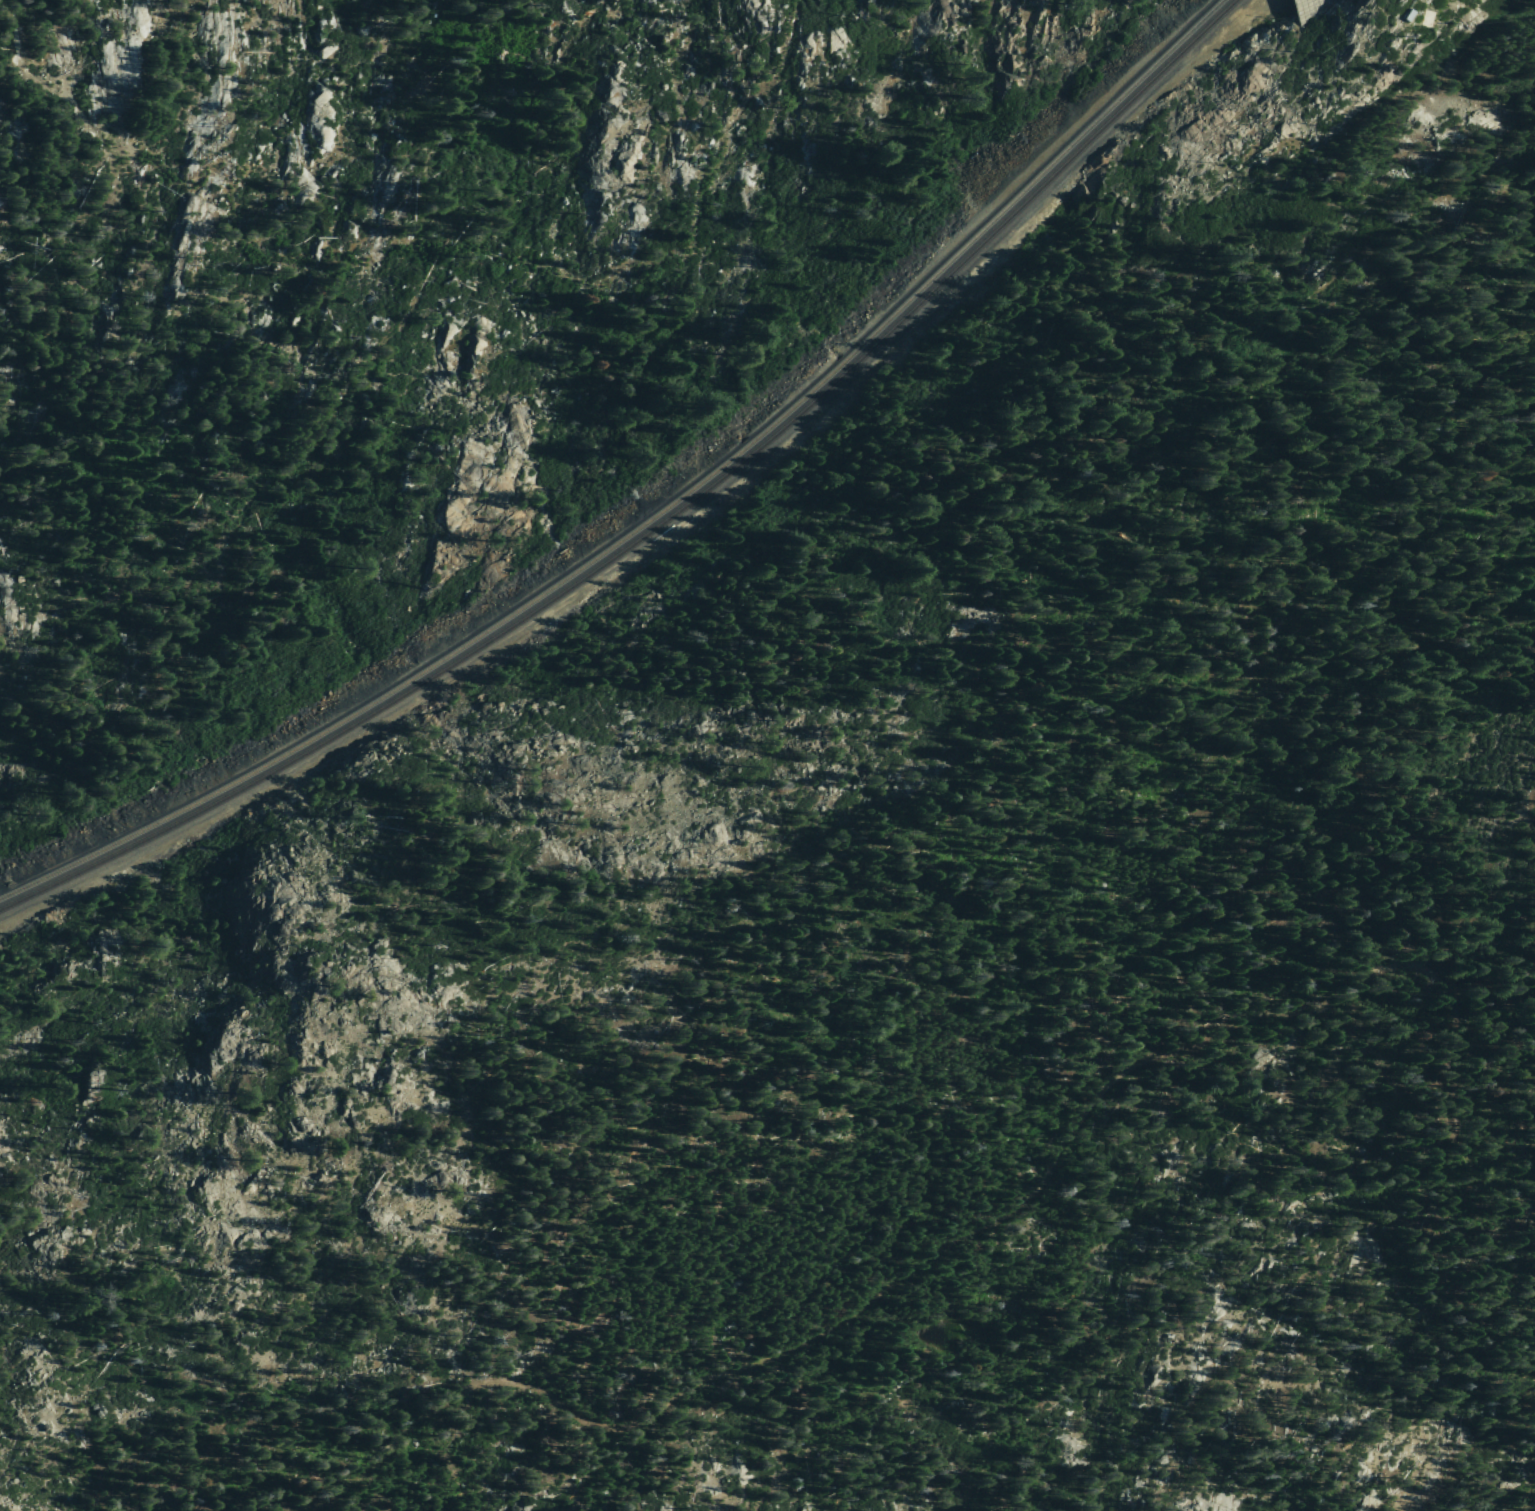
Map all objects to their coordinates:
railway: (1321, 12)
railway: (658, 515)
railway: (668, 522)

